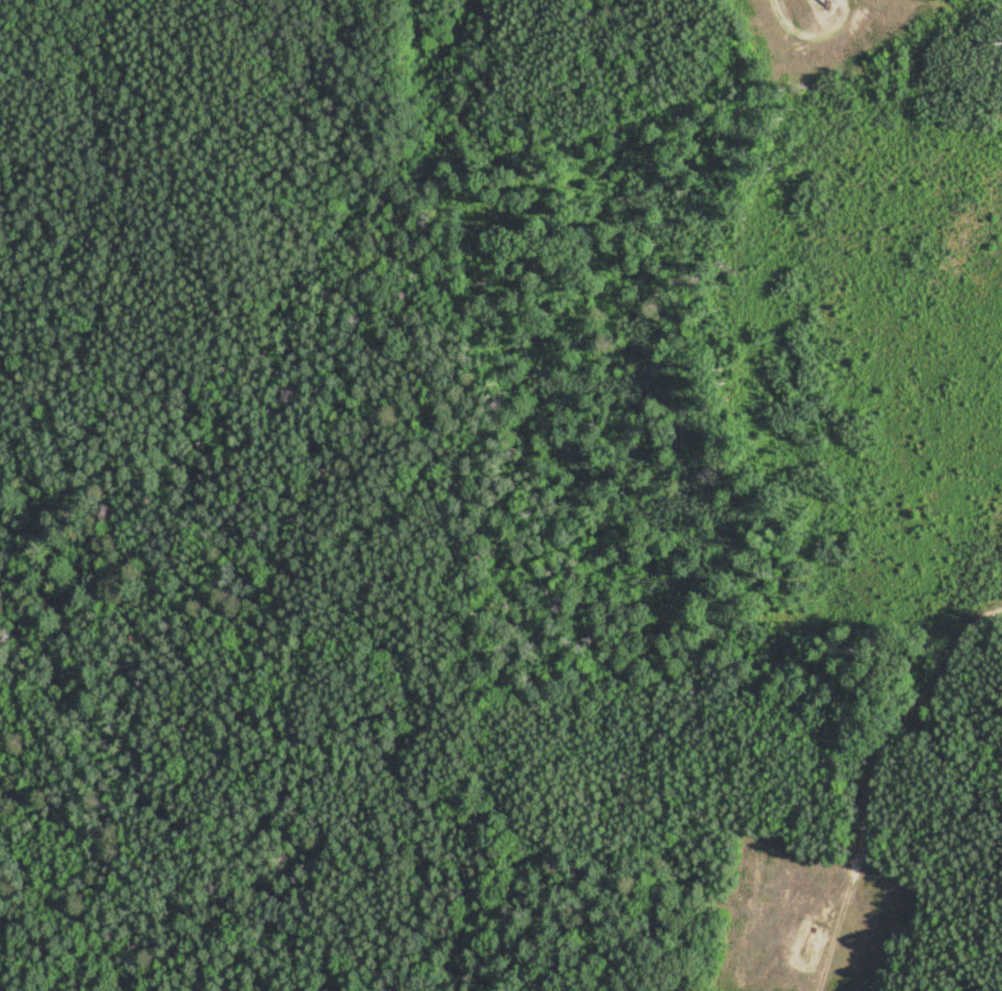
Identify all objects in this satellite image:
road: (884, 748)
petroleum well: (802, 936)

